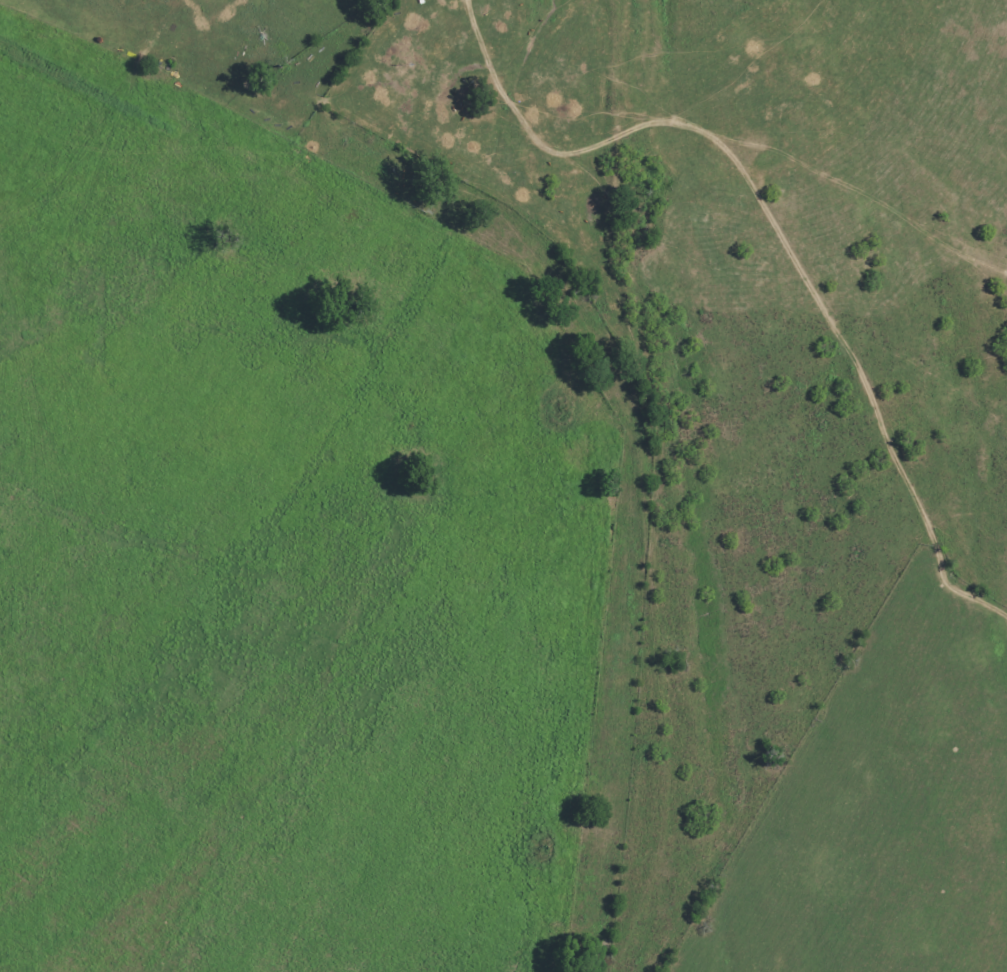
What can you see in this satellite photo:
road: (706, 124)
road: (861, 374)

